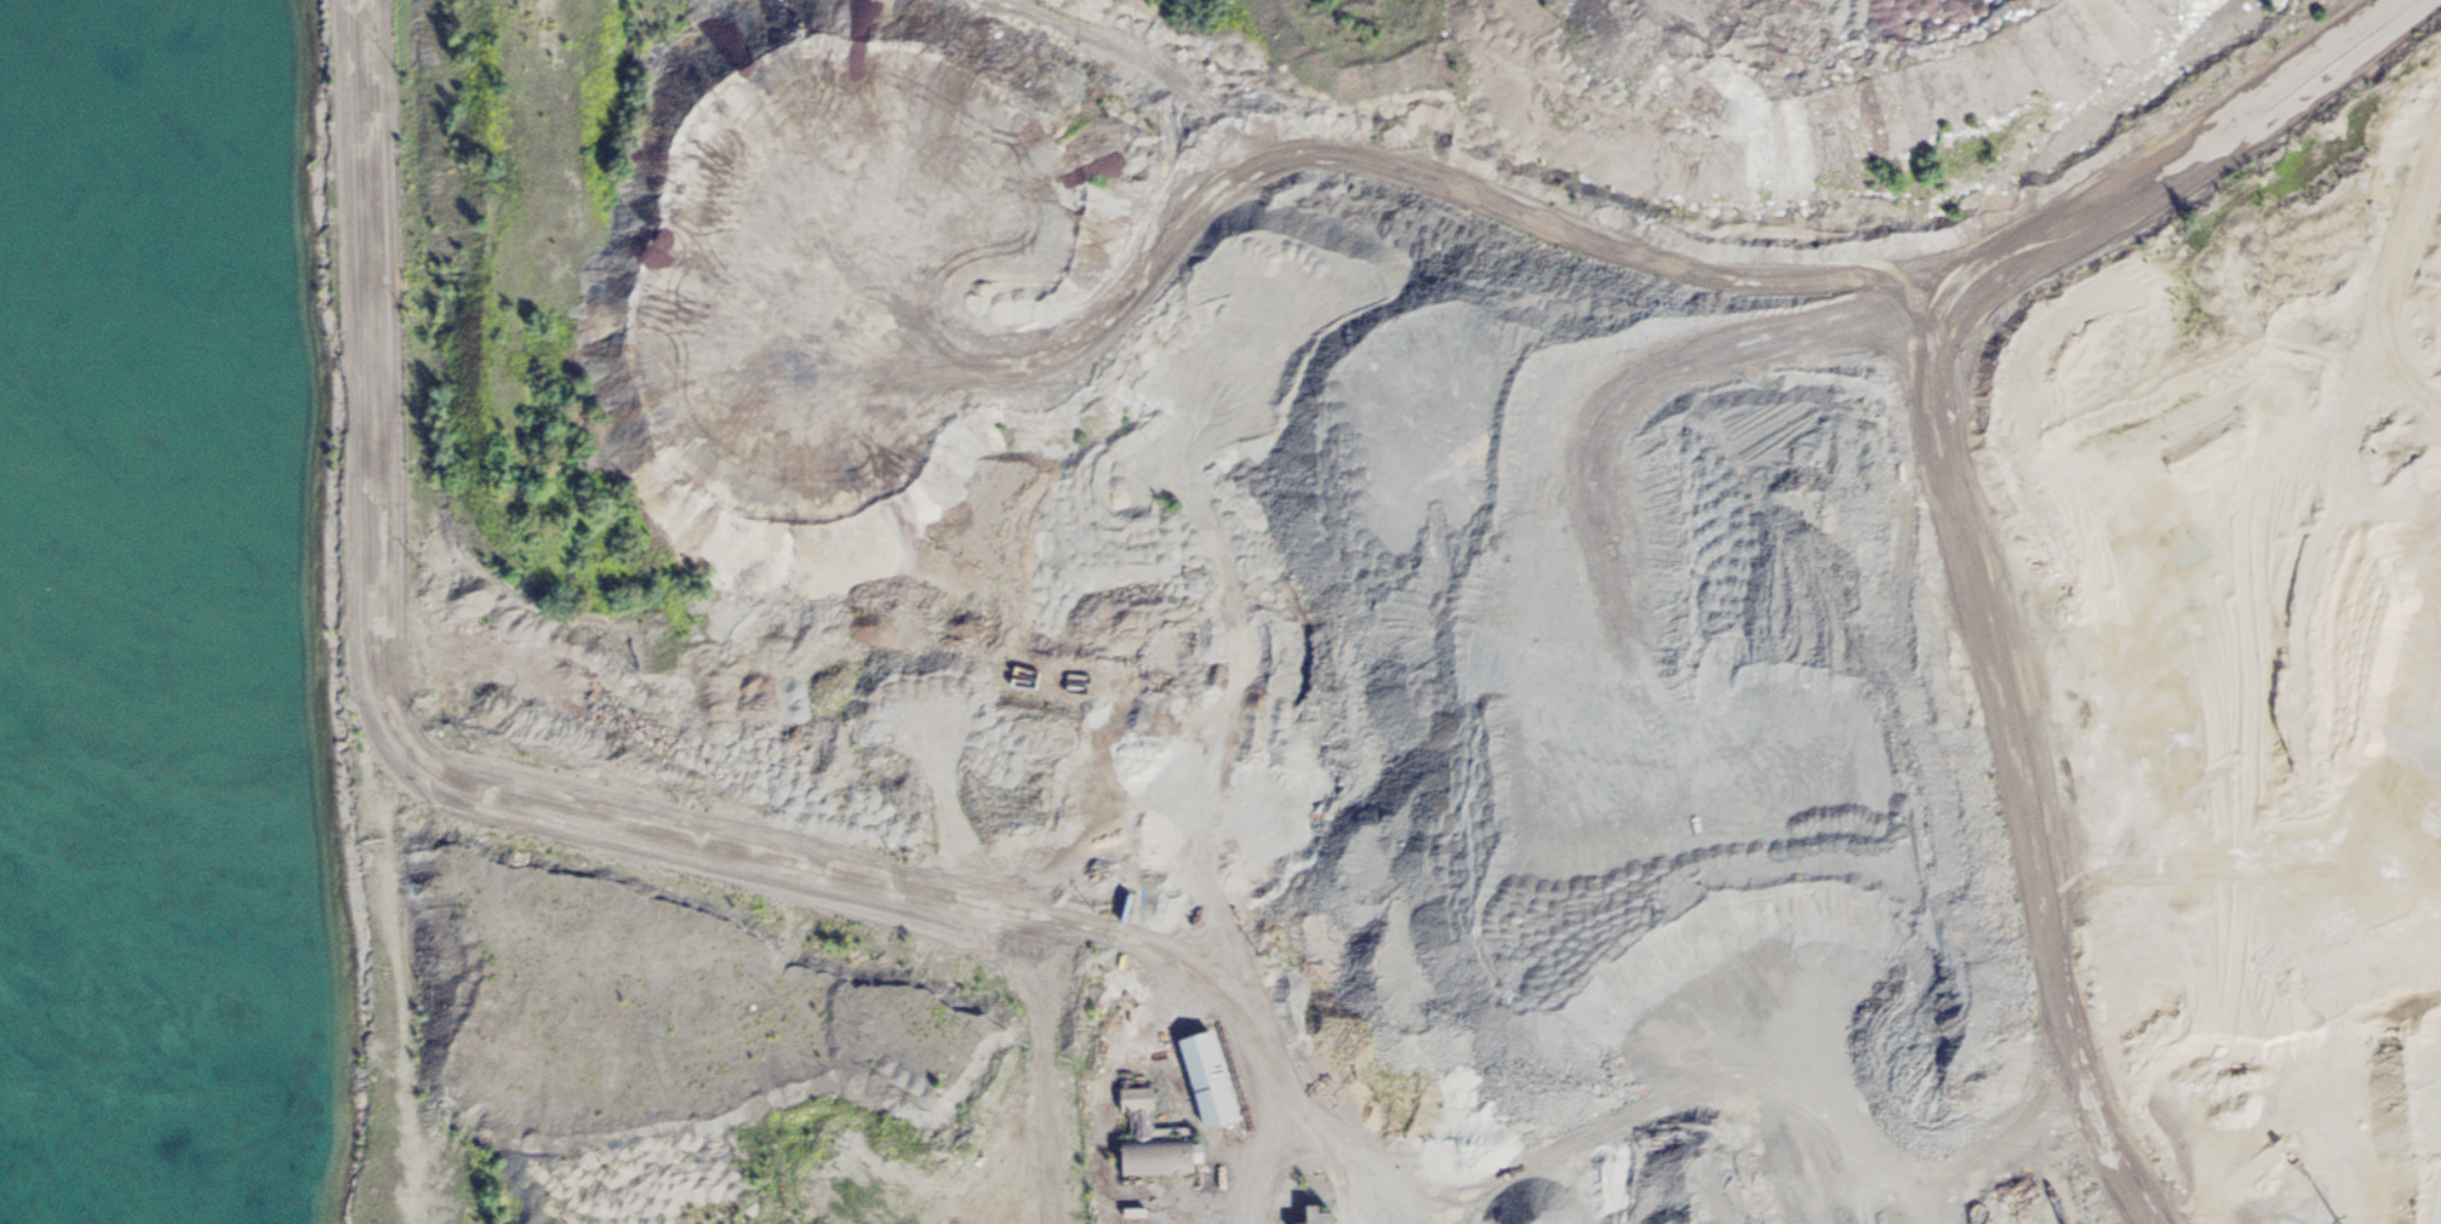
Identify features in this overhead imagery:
quarry: (2275, 1014)

